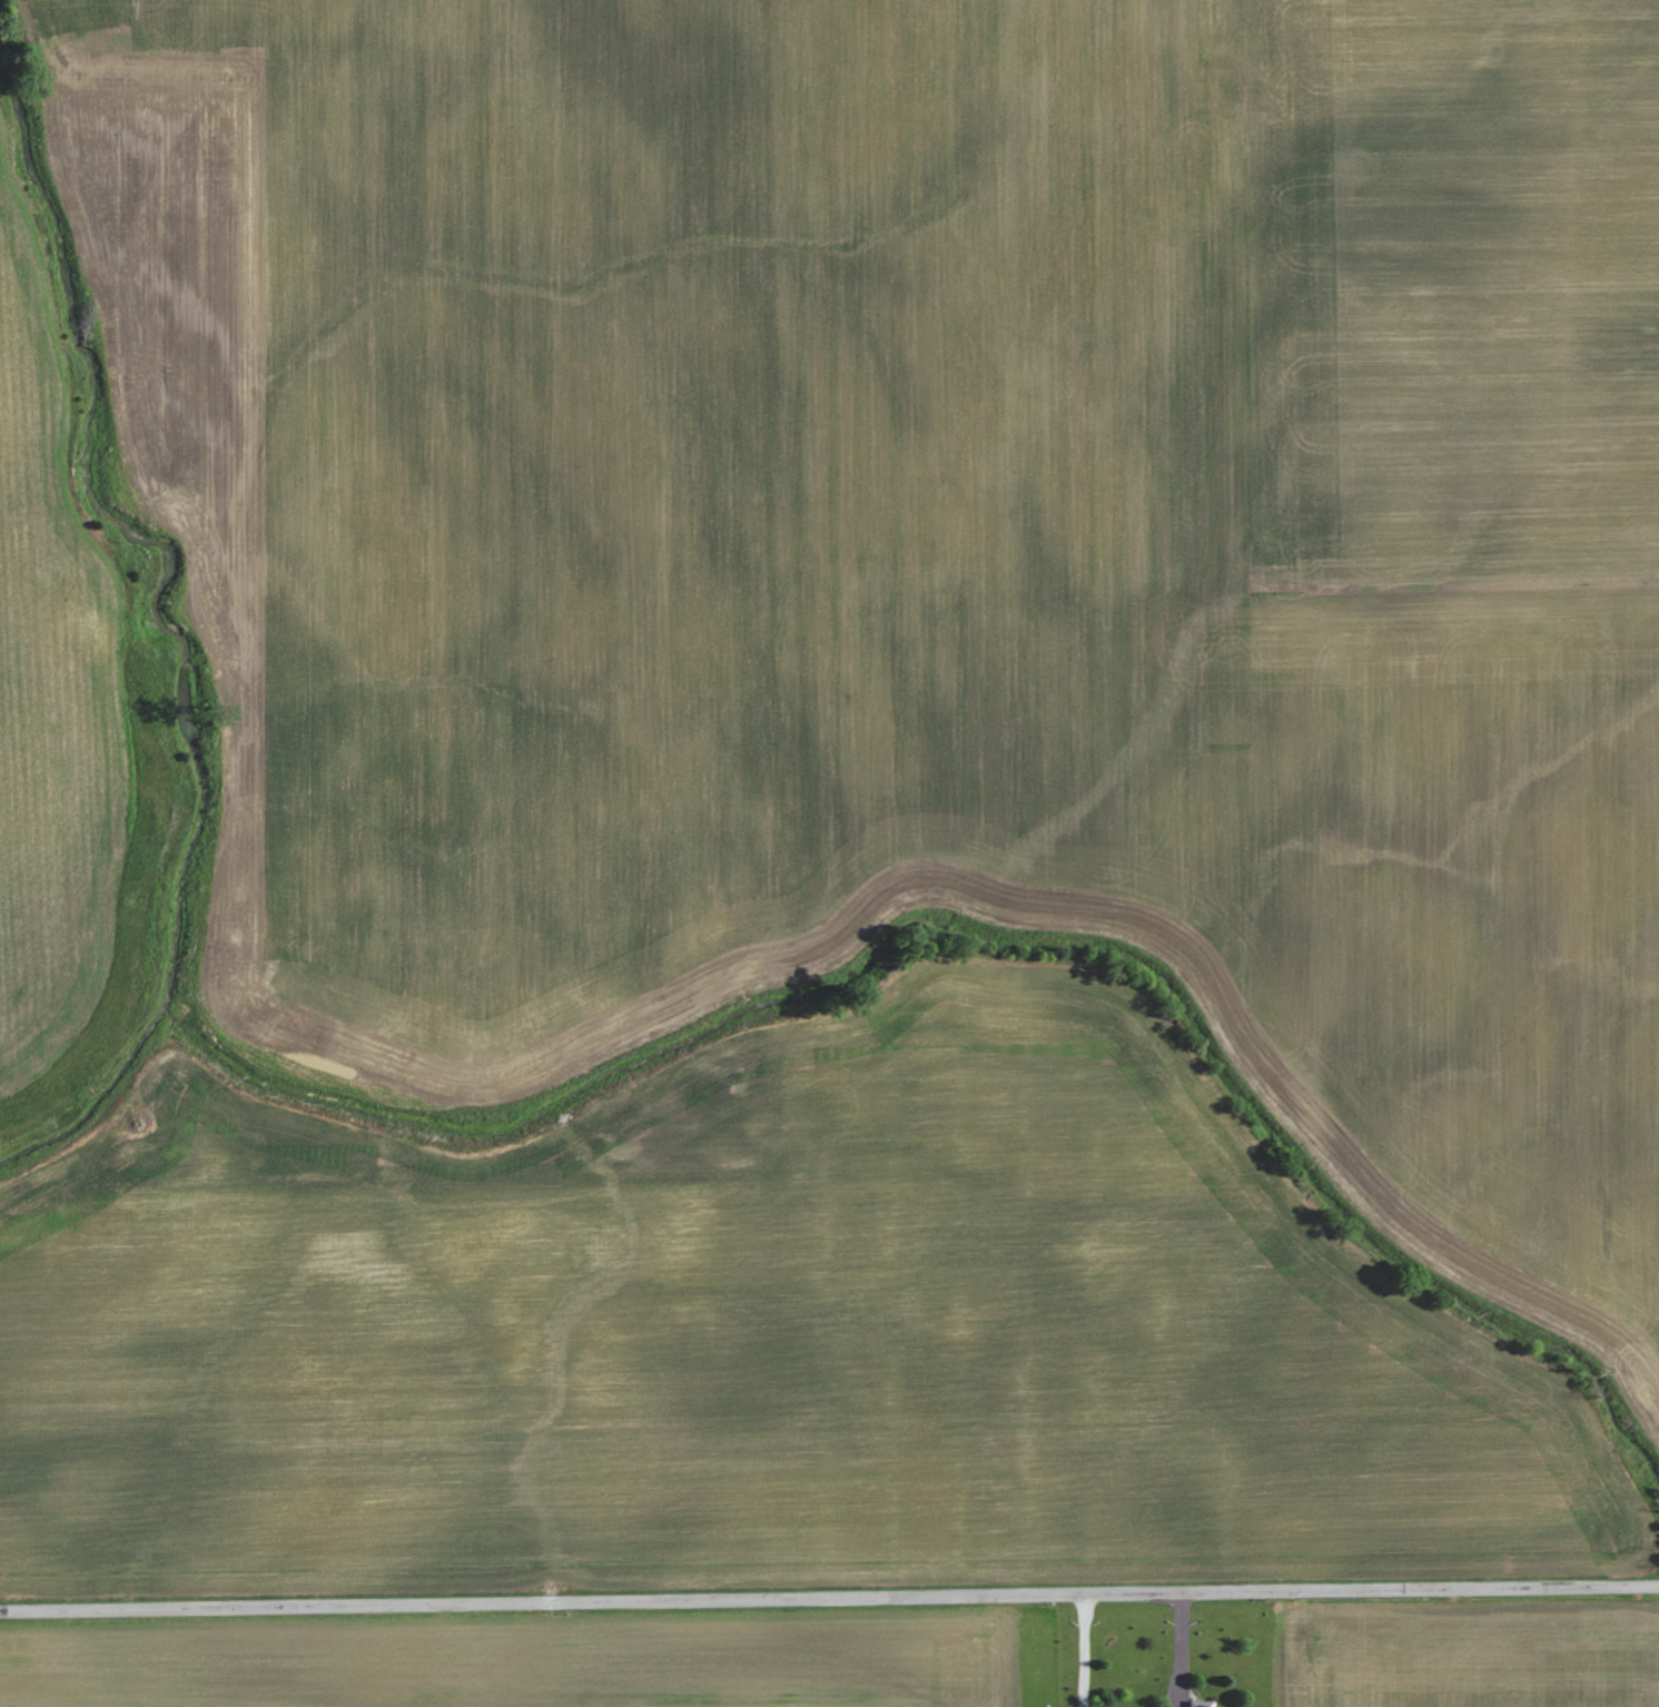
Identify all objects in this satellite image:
road: (829, 1591)
building: (1202, 1704)

